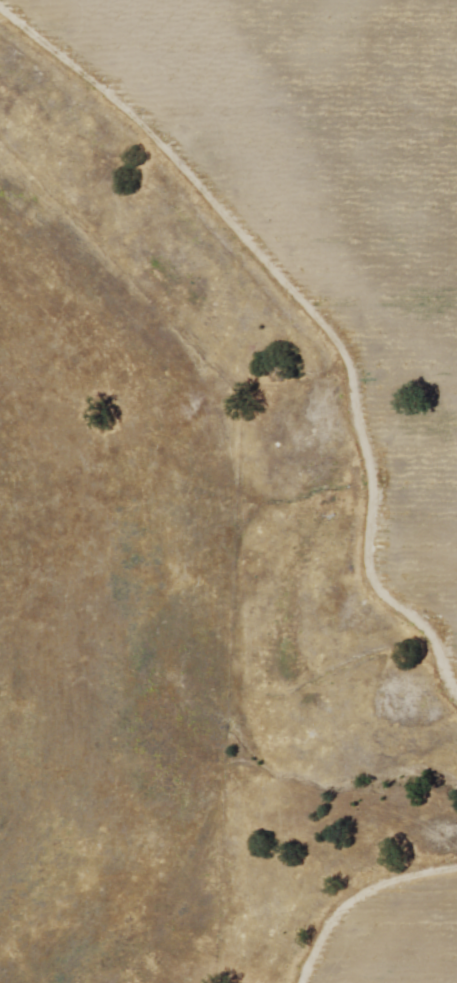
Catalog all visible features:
road: (309, 315)
road: (357, 895)

